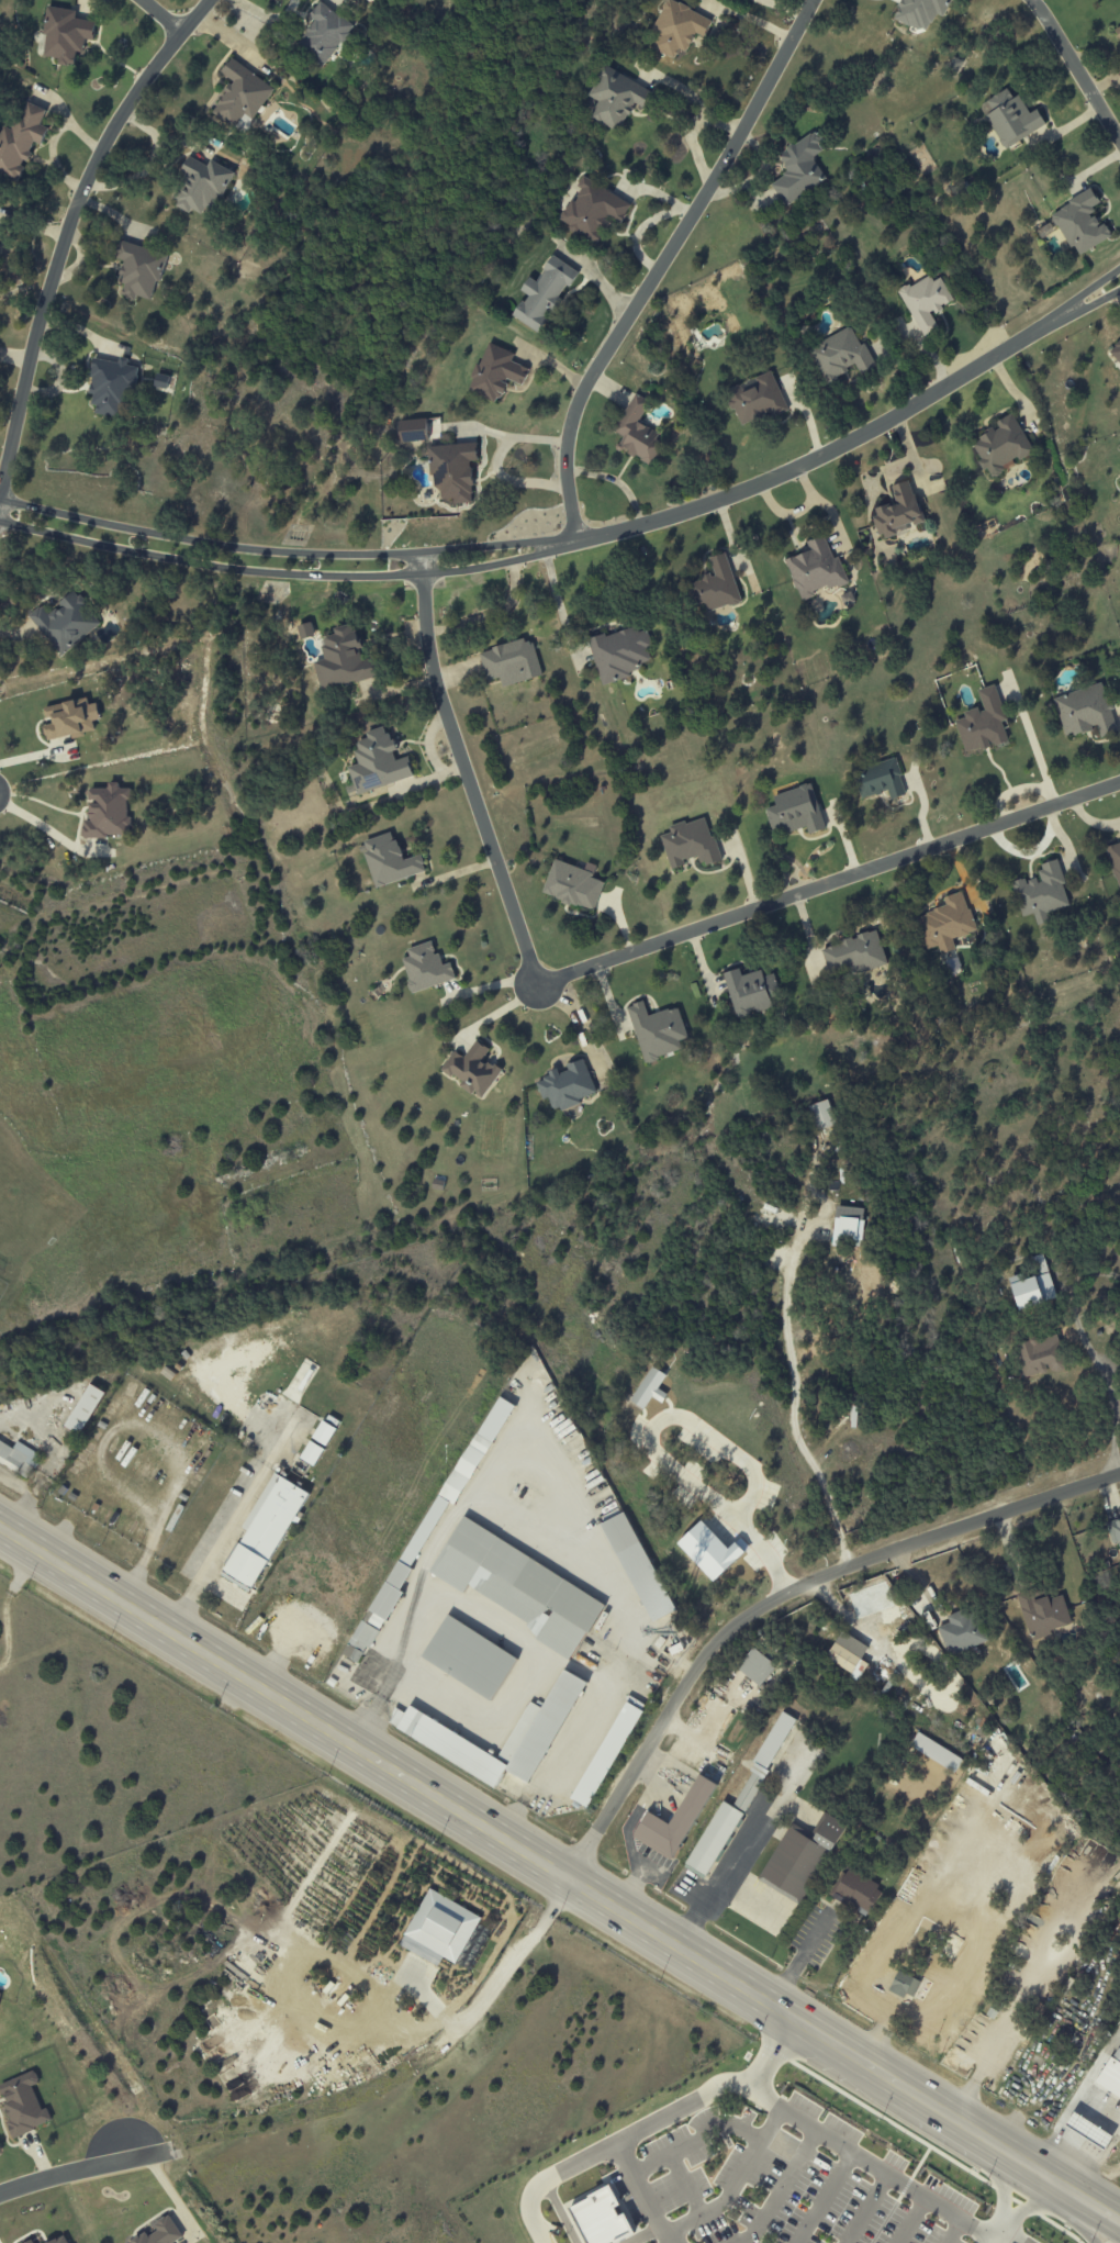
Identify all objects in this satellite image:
building: (920, 12)
road: (161, 16)
building: (676, 29)
building: (1117, 32)
building: (323, 33)
building: (64, 35)
road: (1076, 70)
building: (240, 97)
building: (615, 98)
building: (1010, 118)
road: (690, 131)
building: (21, 140)
building: (798, 169)
building: (200, 187)
building: (592, 210)
building: (1080, 222)
road: (70, 225)
building: (0, 230)
road: (660, 263)
building: (138, 270)
building: (544, 293)
road: (1118, 297)
building: (925, 301)
road: (1069, 304)
road: (1072, 319)
building: (1116, 351)
building: (840, 355)
building: (495, 372)
building: (161, 381)
building: (111, 387)
building: (757, 400)
building: (412, 429)
building: (637, 432)
building: (1000, 446)
road: (496, 460)
road: (810, 466)
building: (452, 471)
building: (897, 512)
road: (287, 553)
building: (816, 569)
road: (289, 578)
building: (716, 585)
building: (65, 623)
building: (619, 654)
building: (343, 659)
building: (509, 662)
building: (1084, 711)
building: (69, 718)
building: (982, 723)
building: (377, 762)
building: (880, 780)
building: (107, 812)
building: (794, 812)
road: (1091, 818)
road: (35, 823)
building: (690, 844)
building: (389, 861)
building: (1115, 861)
building: (572, 884)
building: (1041, 893)
building: (945, 924)
building: (854, 955)
road: (616, 956)
building: (425, 968)
building: (750, 992)
building: (657, 1031)
building: (471, 1070)
building: (565, 1085)
building: (821, 1115)
building: (848, 1224)
building: (1033, 1285)
park: (1, 1288)
building: (1040, 1355)
building: (649, 1388)
road: (795, 1399)
road: (1109, 1407)
building: (85, 1409)
road: (253, 1416)
building: (326, 1430)
road: (650, 1444)
building: (312, 1453)
building: (19, 1459)
building: (265, 1531)
building: (1113, 1531)
road: (215, 1548)
building: (707, 1551)
building: (632, 1566)
building: (515, 1586)
road: (779, 1596)
building: (1042, 1615)
building: (961, 1631)
building: (359, 1642)
building: (845, 1652)
building: (467, 1659)
building: (755, 1666)
building: (541, 1726)
building: (448, 1744)
building: (936, 1752)
building: (604, 1755)
building: (735, 1801)
building: (672, 1816)
road: (743, 1850)
building: (798, 1855)
road: (559, 1877)
building: (856, 1889)
road: (753, 1896)
road: (971, 1912)
building: (438, 1926)
road: (799, 1957)
building: (905, 1982)
road: (496, 1985)
building: (1, 1996)
road: (1099, 2061)
building: (1111, 2074)
building: (26, 2102)
road: (1071, 2112)
road: (648, 2124)
building: (1085, 2131)
gas station: (1085, 2131)
road: (694, 2139)
road: (881, 2164)
road: (1097, 2164)
road: (70, 2171)
road: (1003, 2178)
parking lot: (789, 2183)
road: (684, 2184)
road: (735, 2184)
road: (780, 2185)
road: (641, 2196)
road: (824, 2196)
road: (1037, 2201)
road: (866, 2206)
building: (597, 2217)
road: (912, 2218)
road: (952, 2228)
road: (1000, 2229)
building: (161, 2232)
road: (994, 2239)
building: (57, 2240)
building: (30, 2241)

